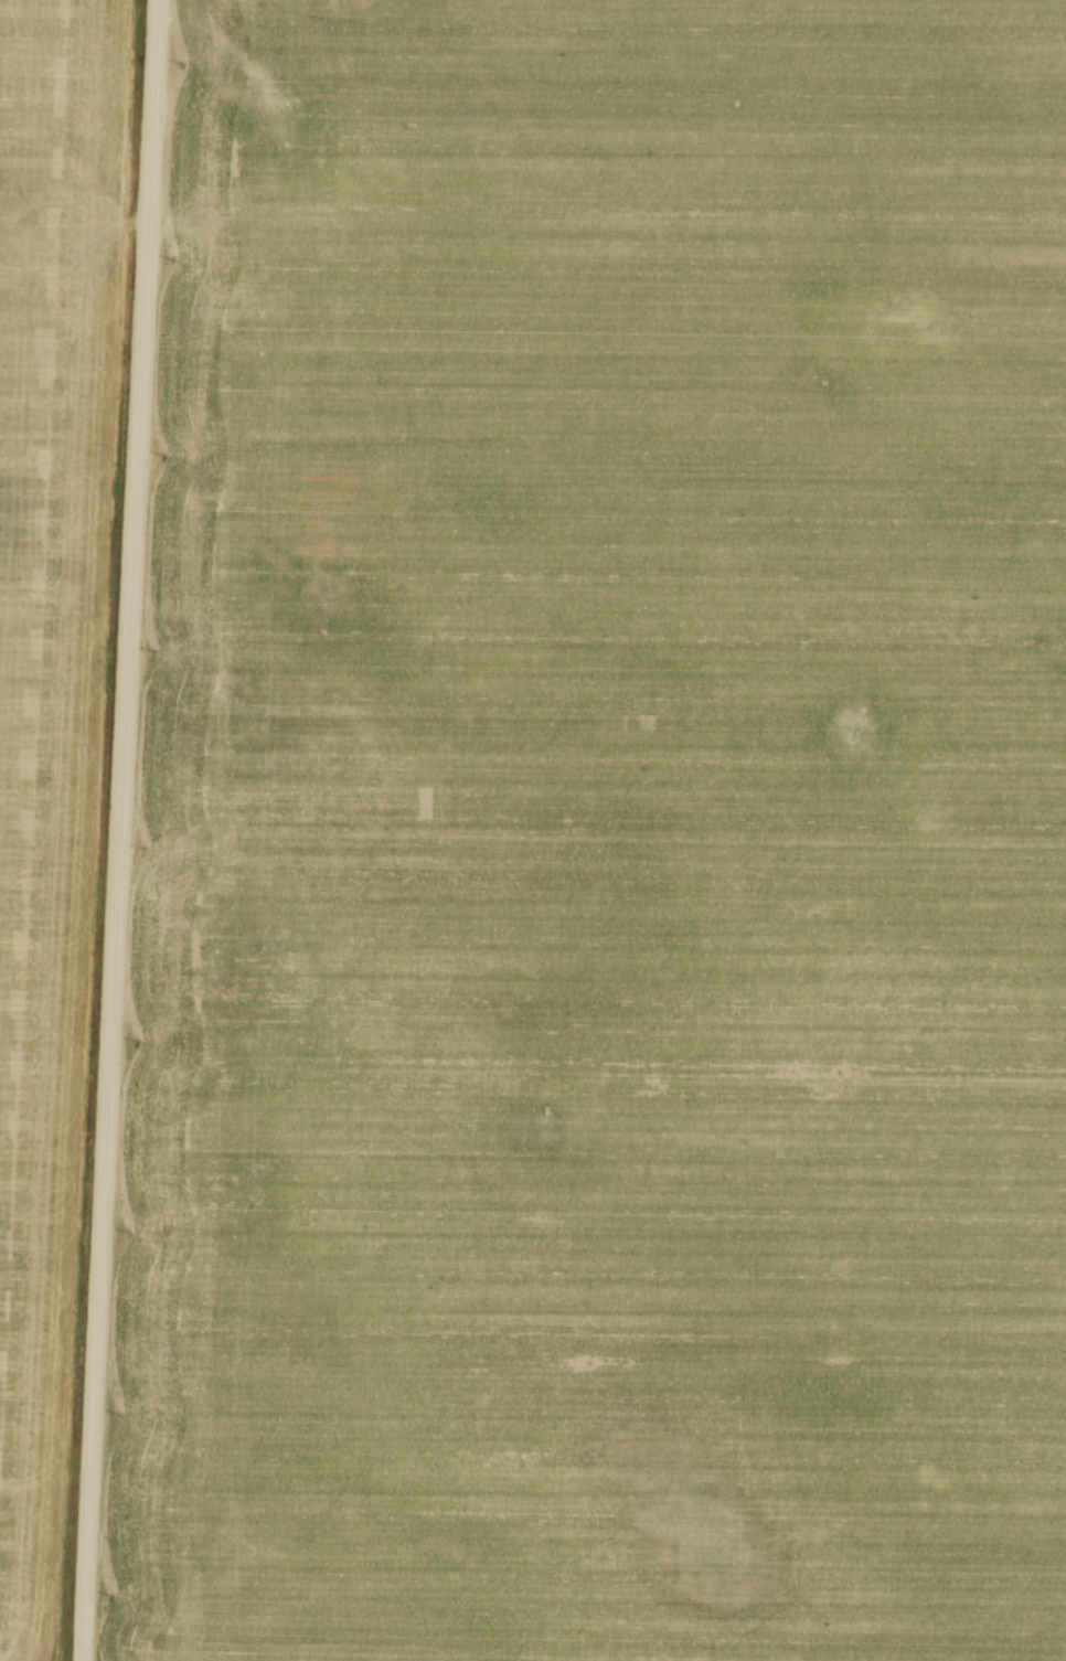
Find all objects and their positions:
crop: (50, 720)
road: (119, 830)
crop: (603, 841)

